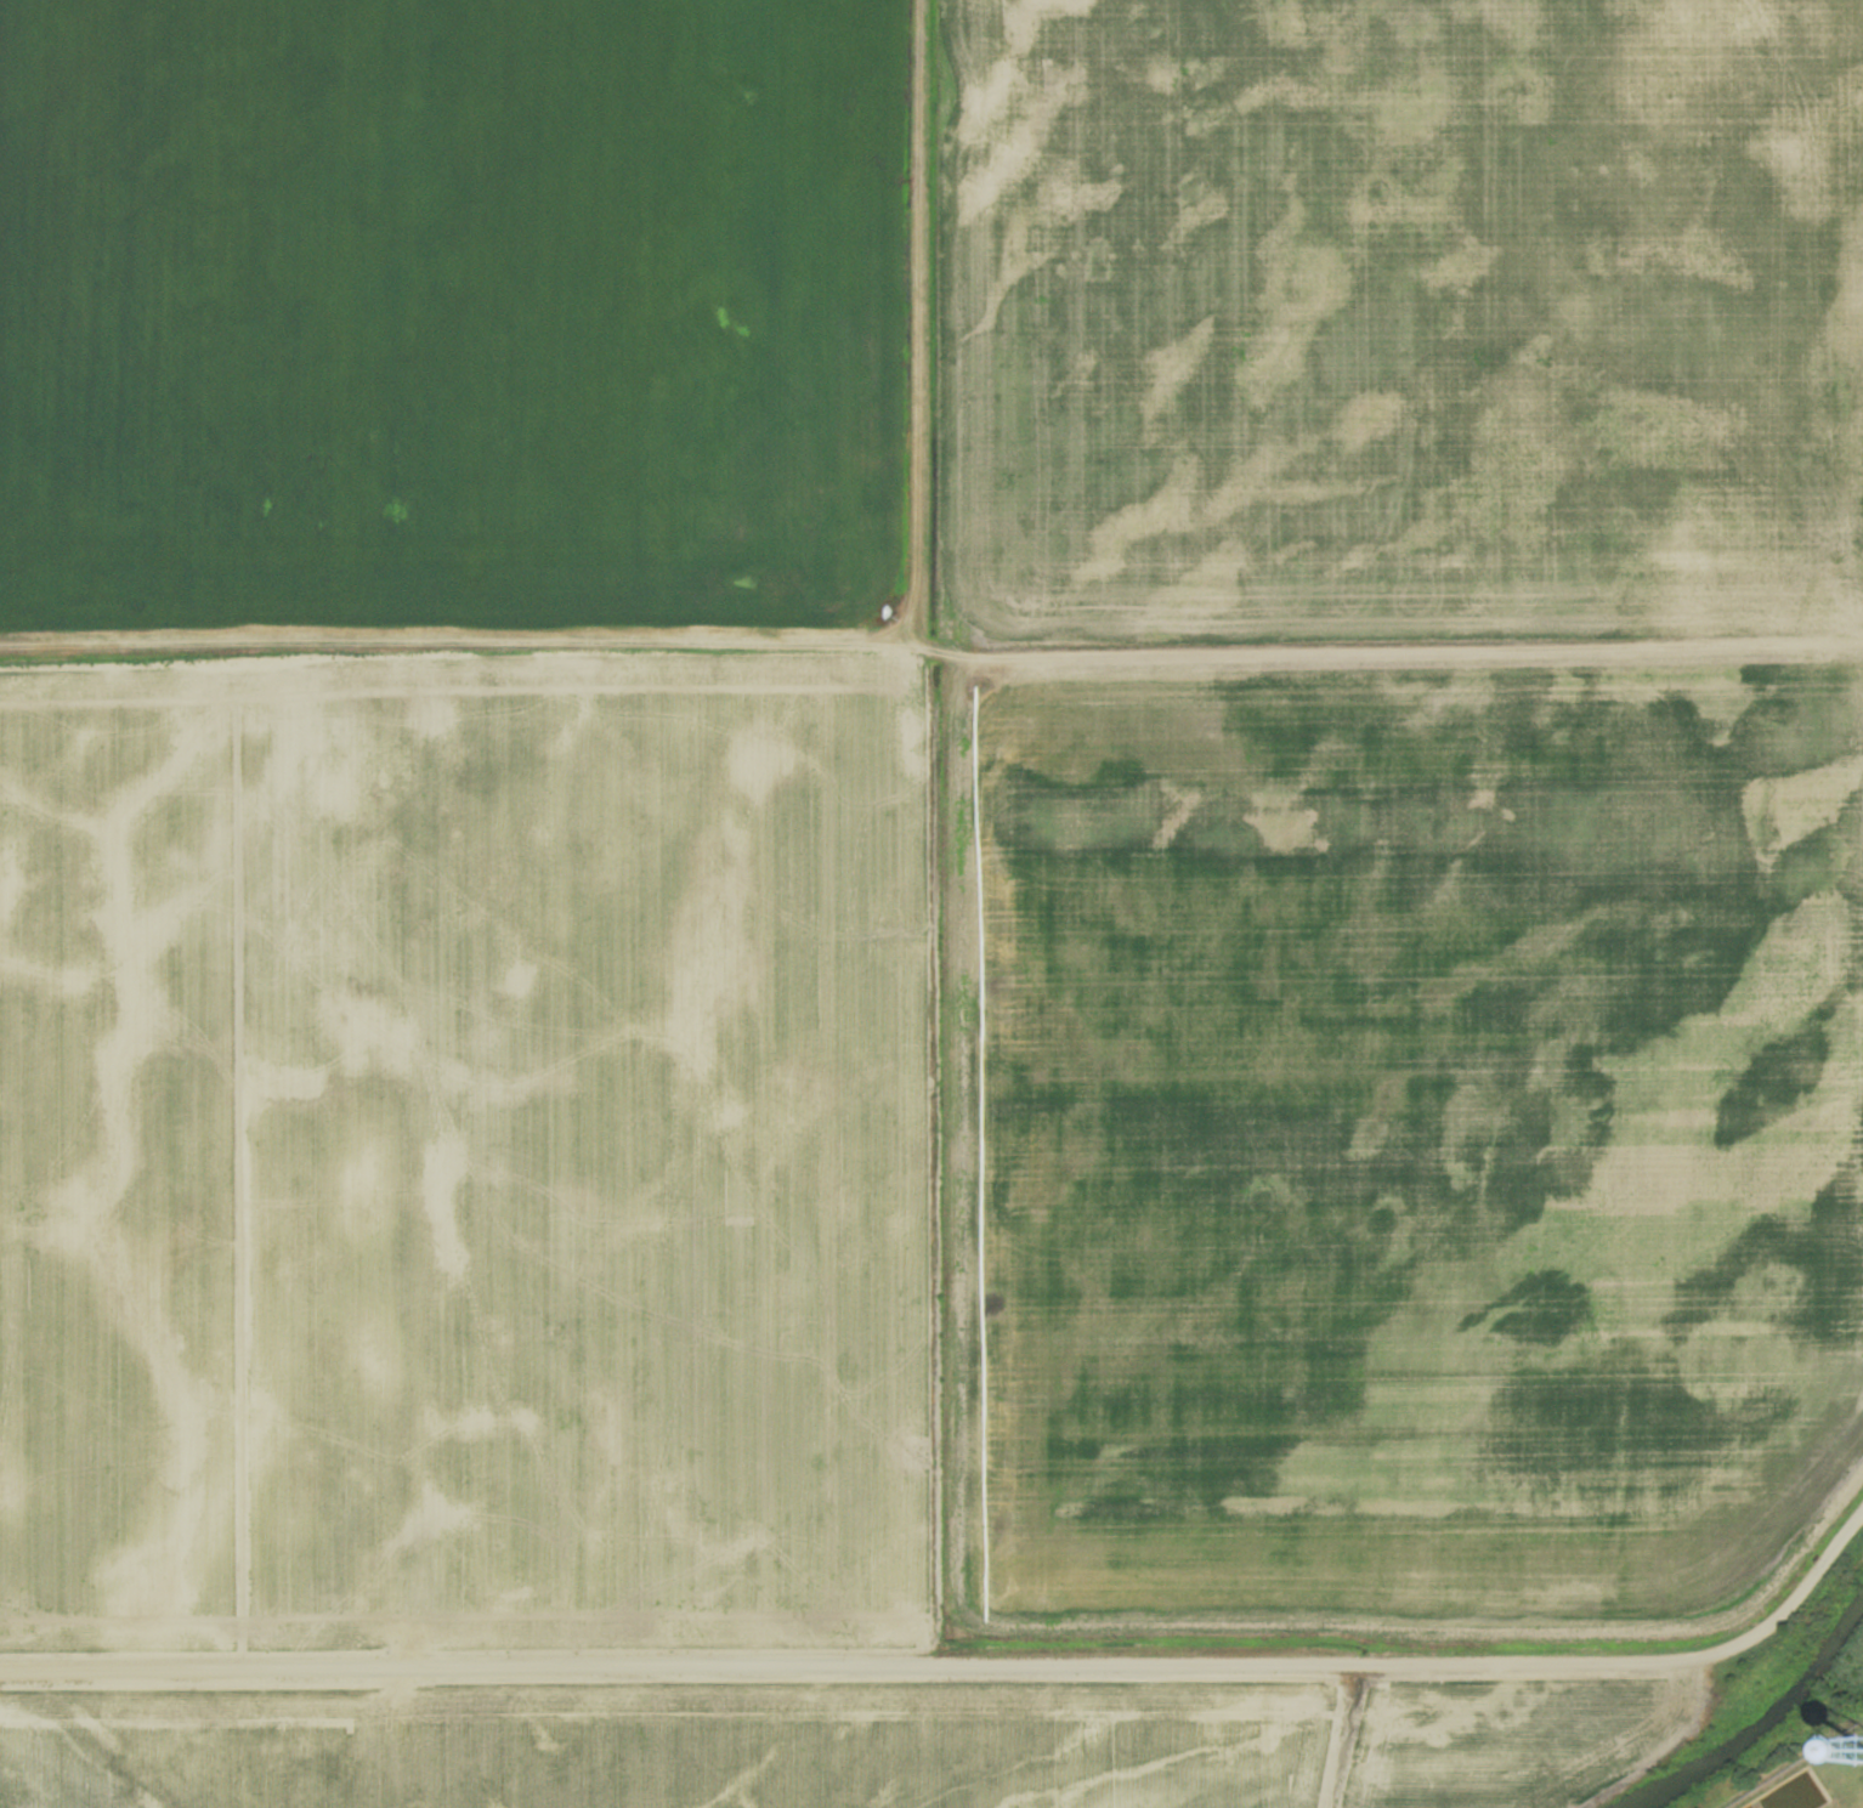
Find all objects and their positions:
road: (962, 1665)

